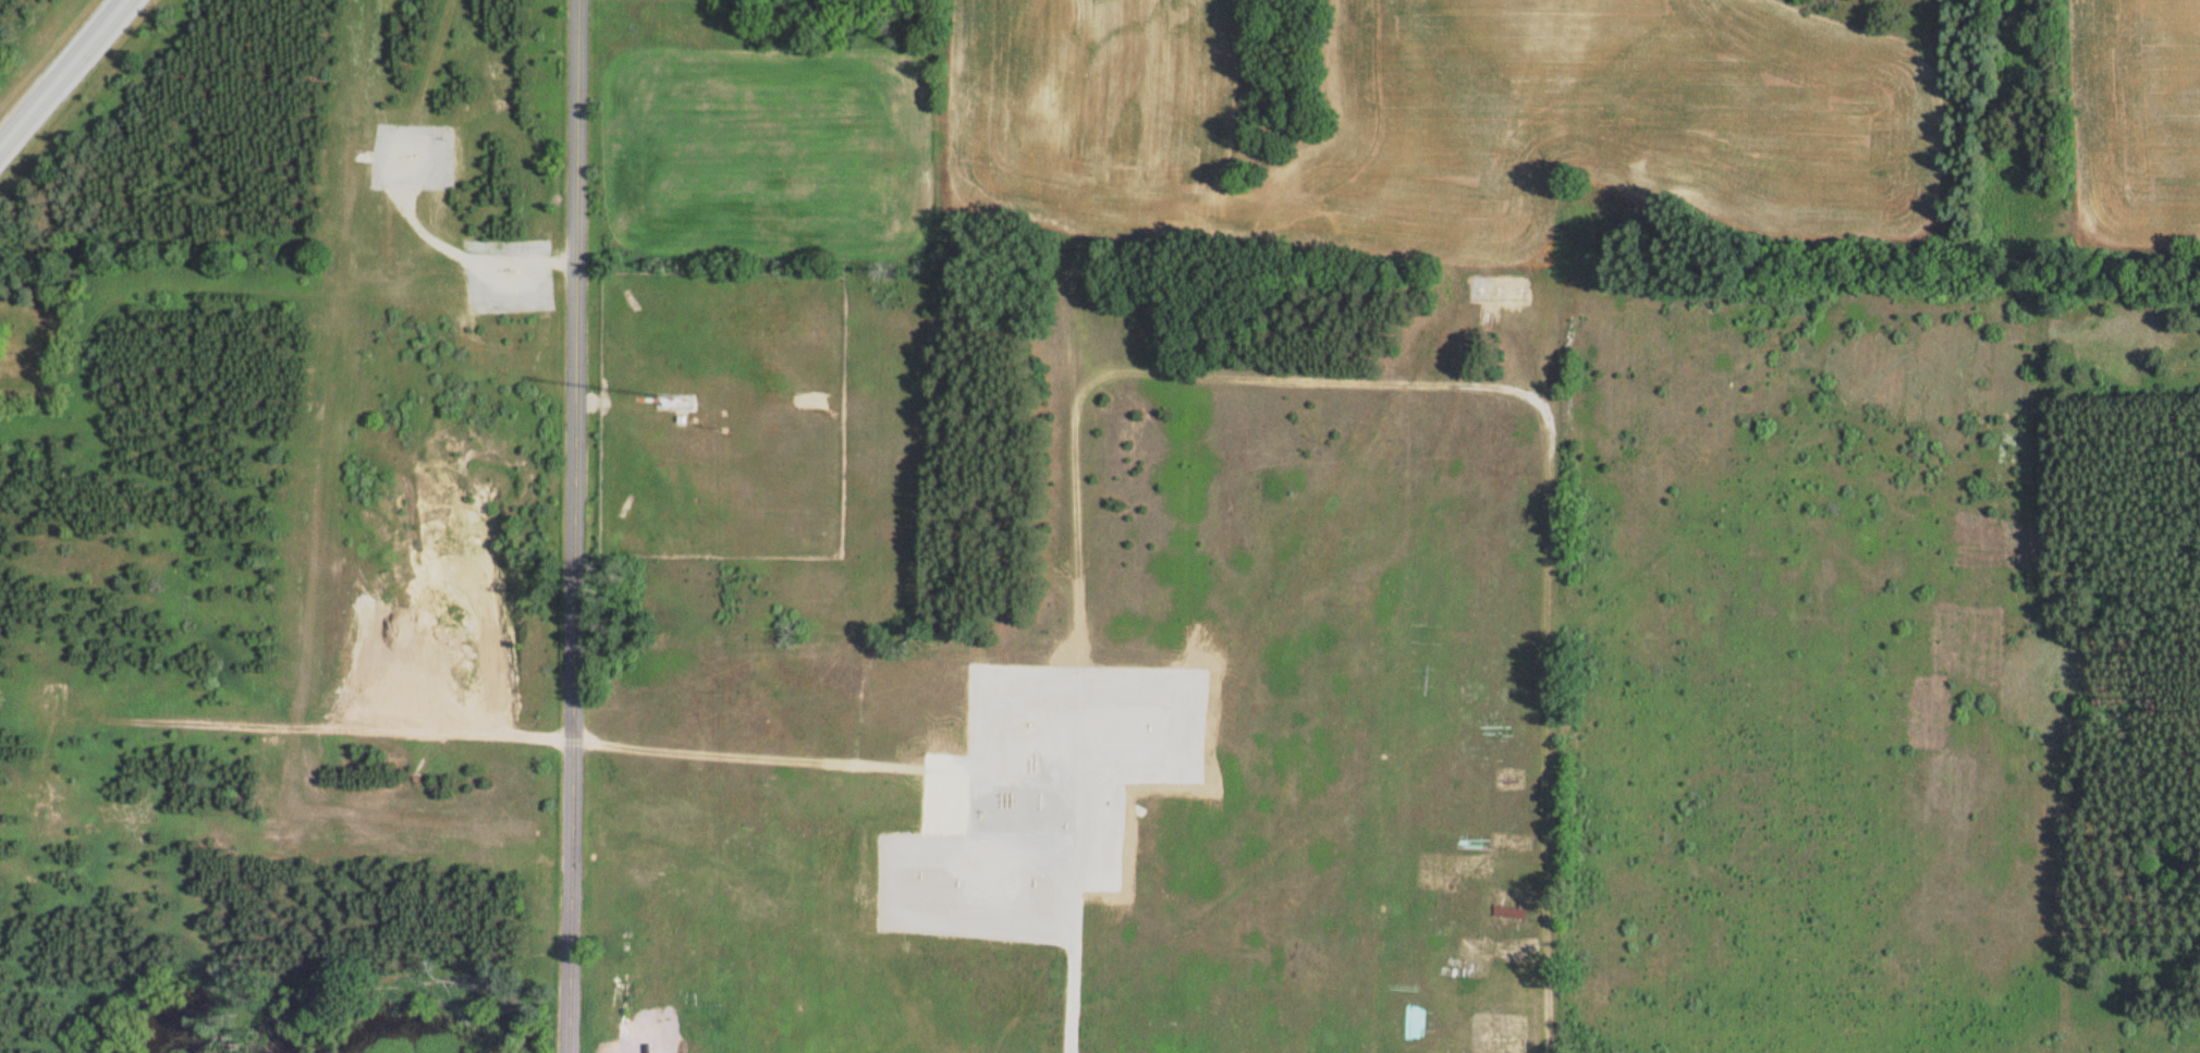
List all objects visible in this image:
road: (61, 73)
road: (1299, 379)
road: (574, 526)
road: (338, 740)
road: (773, 759)
building: (1511, 911)

